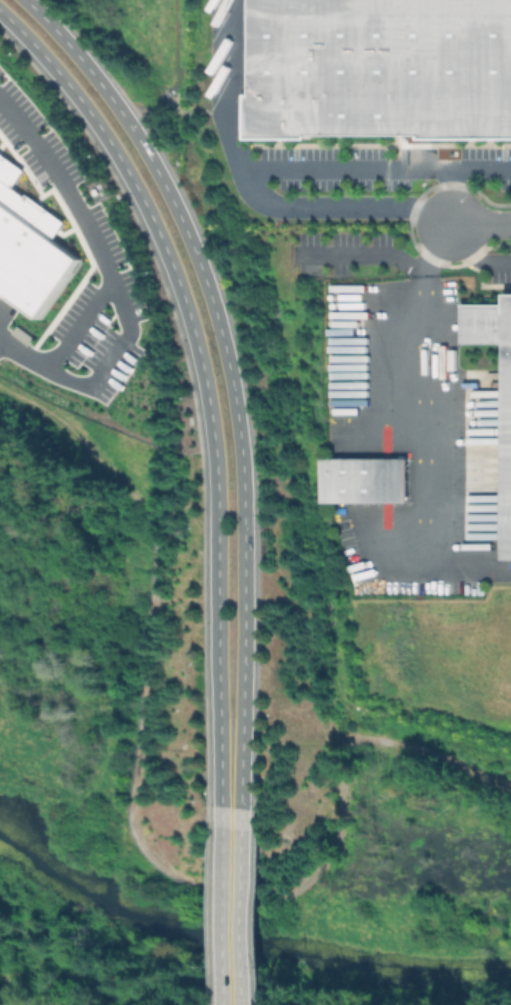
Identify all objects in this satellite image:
building: (380, 67)
road: (233, 84)
road: (259, 168)
road: (449, 196)
road: (480, 223)
building: (28, 243)
road: (434, 250)
road: (474, 253)
road: (110, 282)
road: (78, 324)
road: (231, 377)
road: (205, 382)
road: (86, 440)
building: (505, 452)
road: (420, 468)
building: (362, 480)
road: (136, 718)
road: (338, 783)
road: (231, 908)

